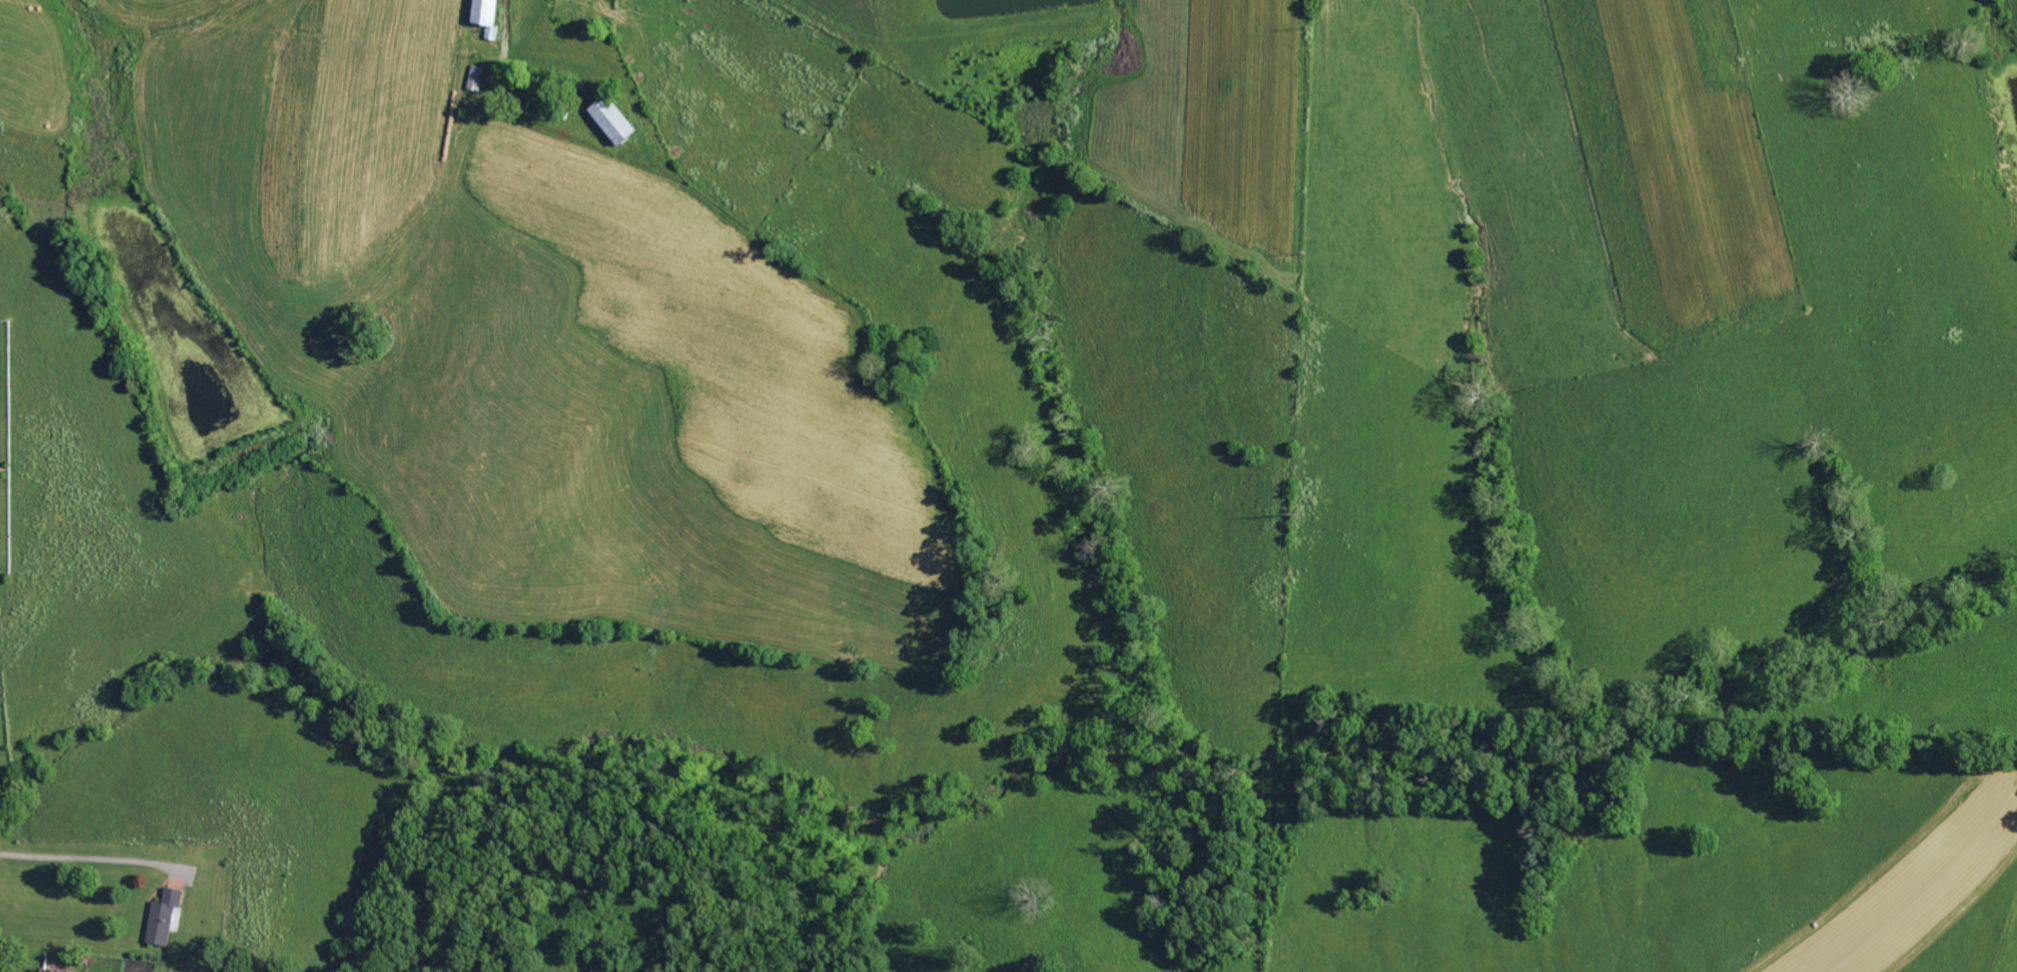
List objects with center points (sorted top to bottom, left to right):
building: (481, 11)
building: (475, 77)
building: (608, 118)
building: (167, 916)
building: (54, 970)

